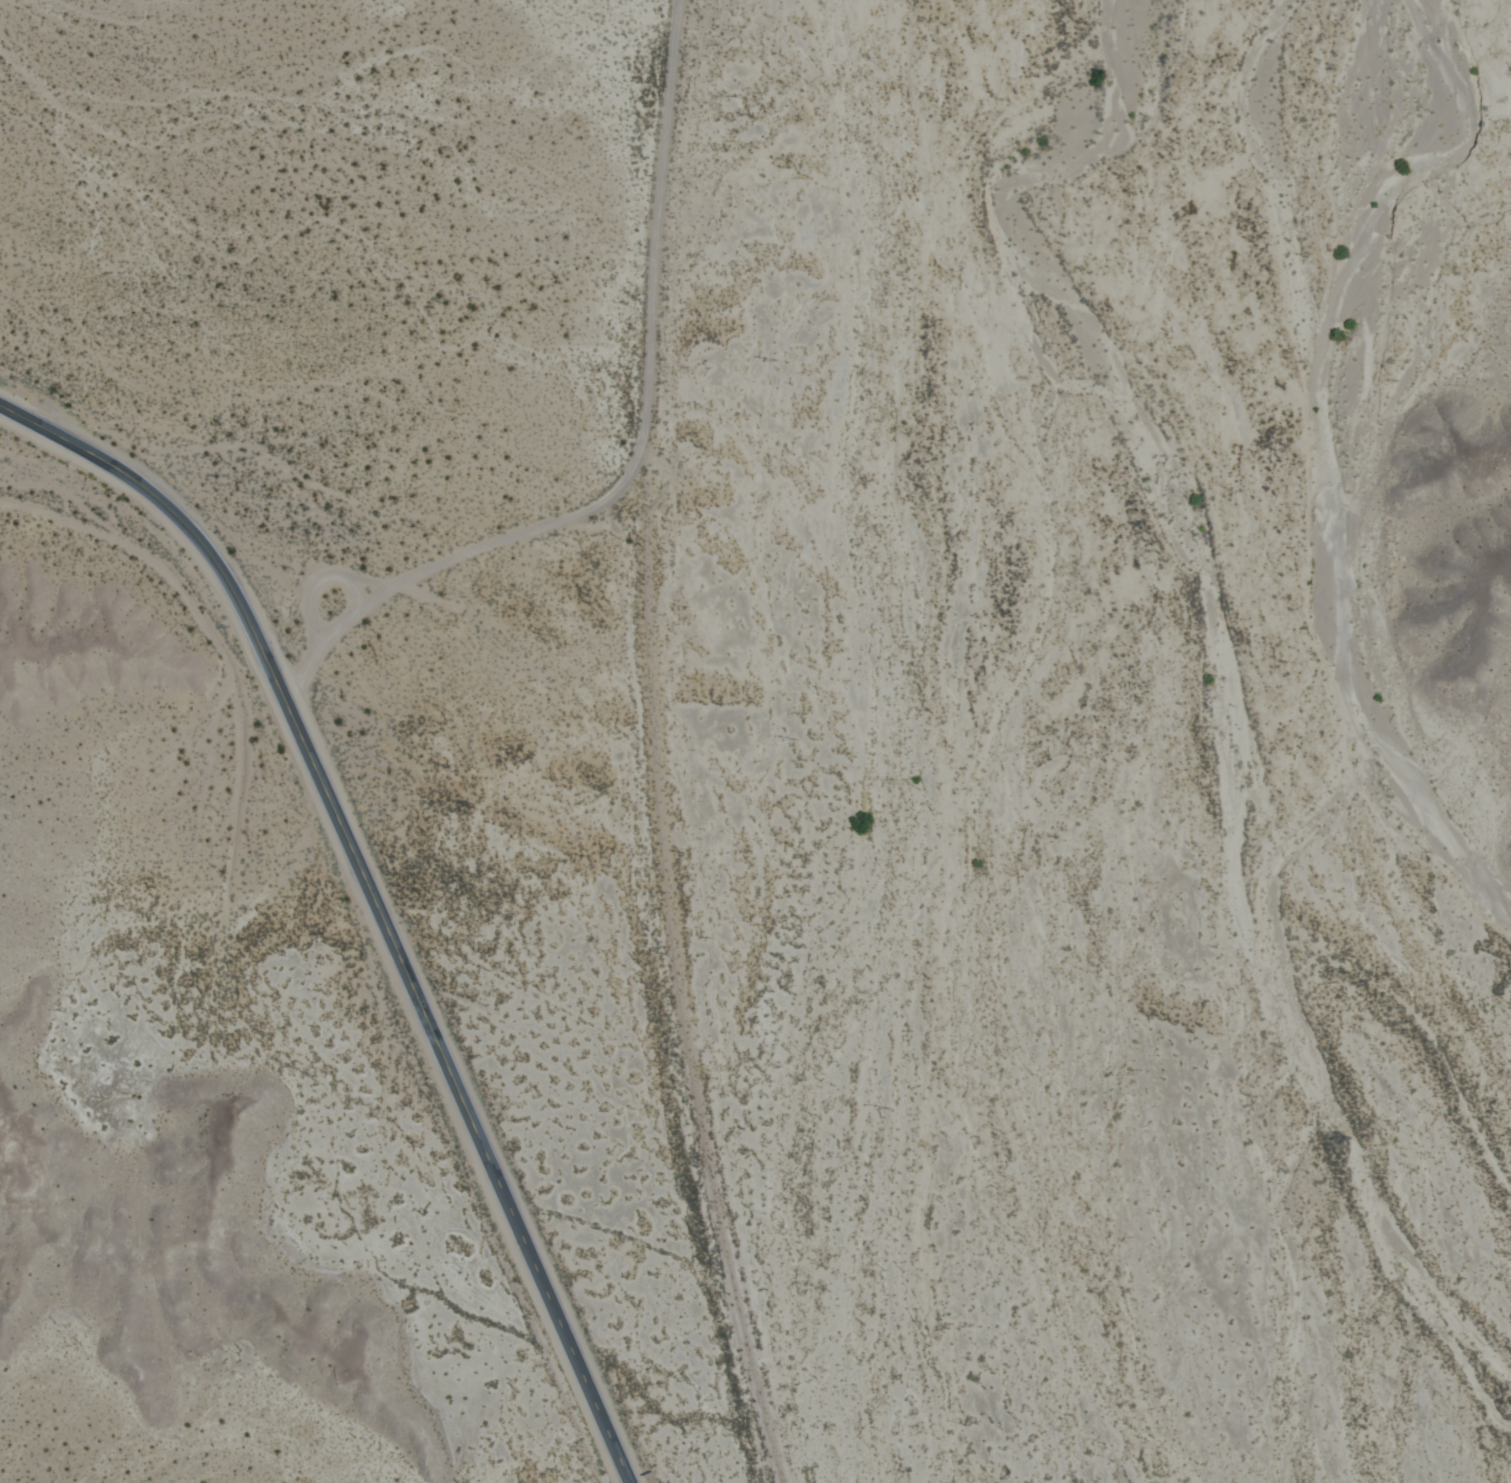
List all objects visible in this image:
road: (646, 395)
road: (352, 597)
river: (1314, 692)
road: (373, 900)

